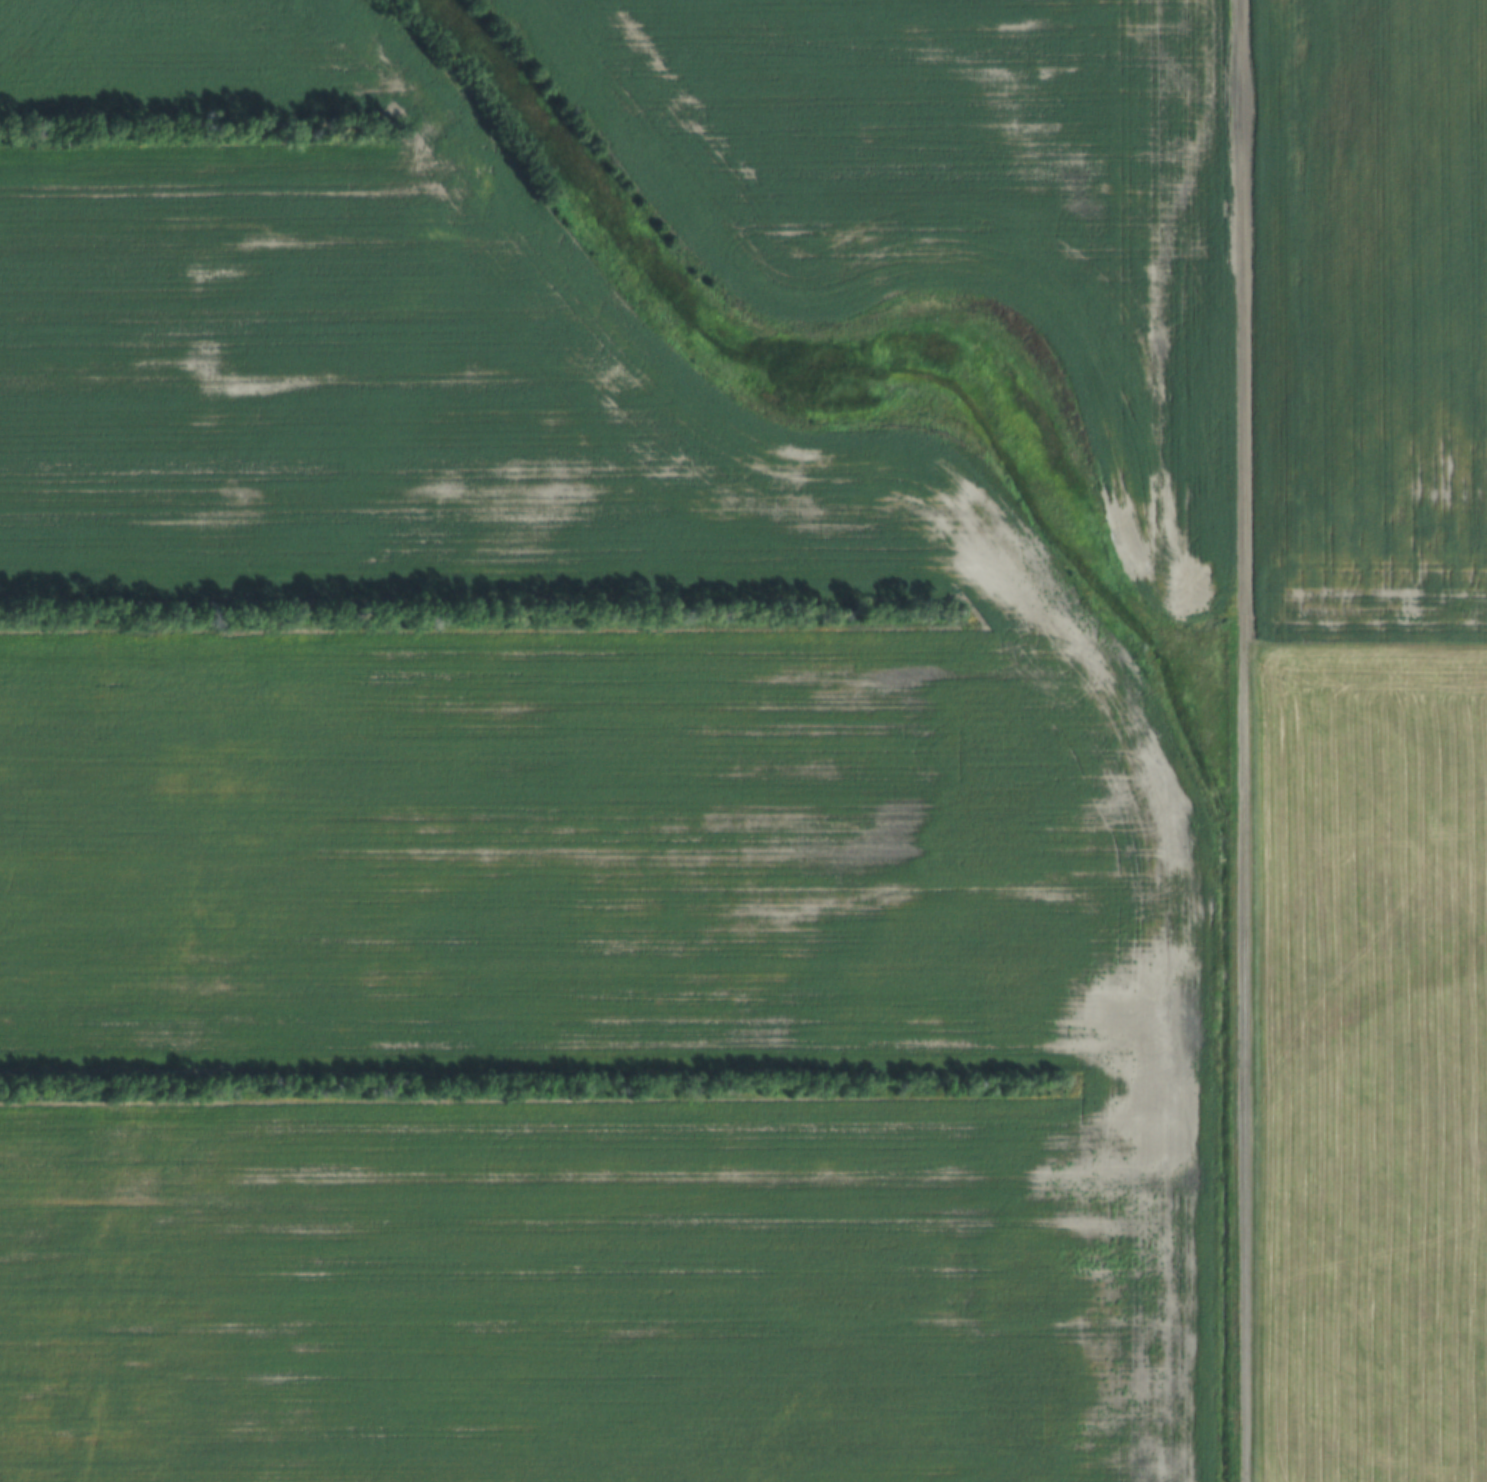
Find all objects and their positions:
road: (1242, 740)

